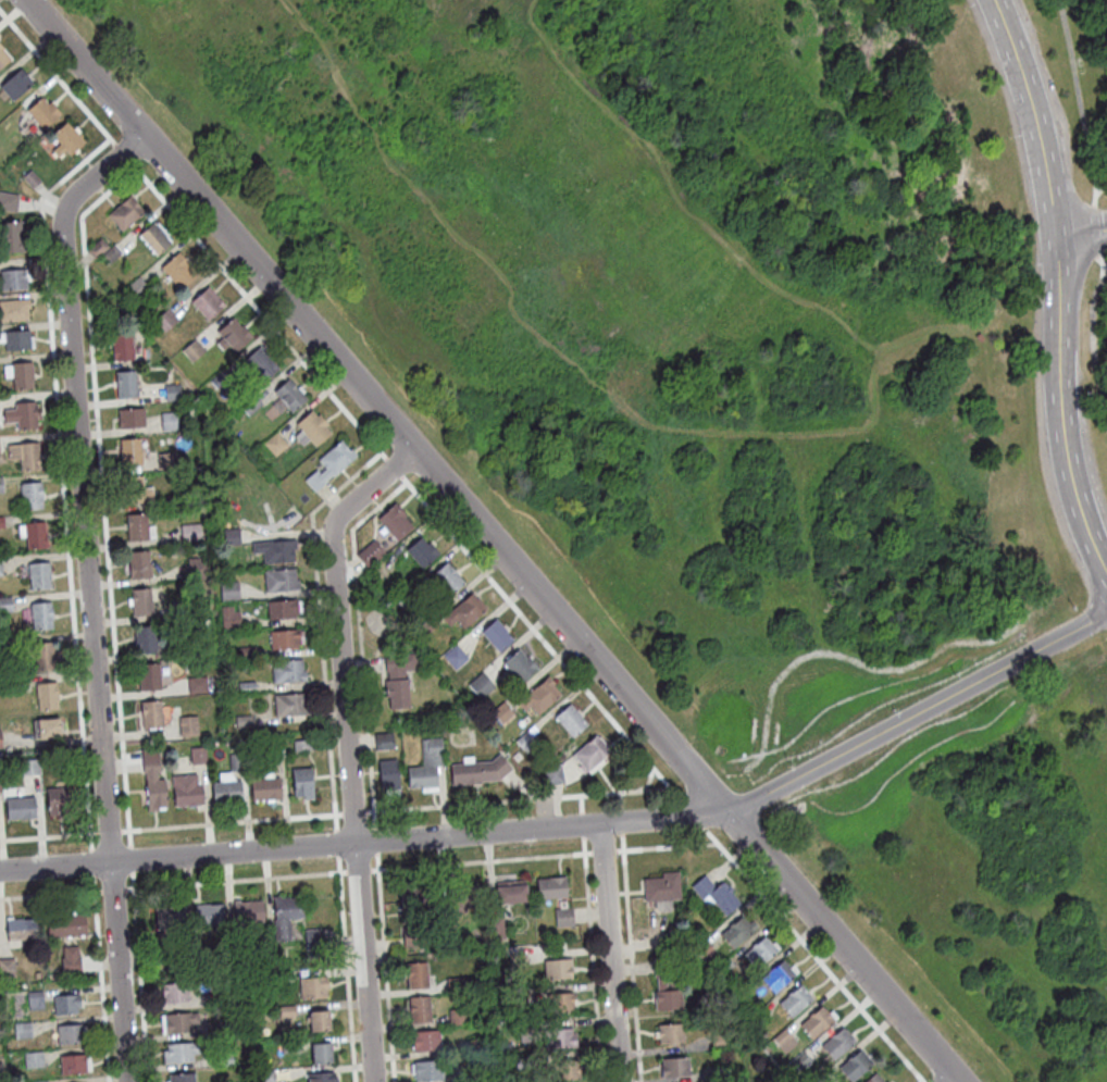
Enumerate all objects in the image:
street lamp: (963, 9)
building: (3, 60)
road: (58, 76)
building: (15, 87)
road: (1079, 97)
building: (42, 115)
building: (7, 127)
street lamp: (1009, 139)
building: (66, 142)
road: (123, 153)
road: (1102, 175)
building: (30, 181)
road: (1094, 194)
road: (675, 198)
building: (8, 203)
building: (124, 217)
road: (1095, 229)
road: (1080, 233)
building: (11, 239)
building: (153, 241)
building: (97, 251)
building: (110, 258)
road: (1103, 261)
street lamp: (1030, 265)
building: (177, 274)
building: (14, 282)
road: (1058, 288)
building: (134, 293)
building: (207, 307)
building: (14, 312)
building: (164, 323)
road: (967, 323)
building: (232, 338)
road: (1092, 339)
building: (16, 343)
road: (546, 343)
building: (122, 350)
building: (192, 353)
building: (260, 366)
building: (22, 378)
building: (219, 382)
building: (125, 388)
street lamp: (1089, 394)
building: (172, 395)
building: (289, 398)
park: (751, 398)
building: (250, 408)
building: (26, 418)
building: (129, 422)
building: (167, 423)
building: (312, 431)
road: (395, 438)
building: (274, 447)
building: (128, 455)
building: (24, 457)
building: (166, 463)
building: (329, 469)
road: (421, 469)
road: (61, 475)
road: (406, 480)
building: (1, 487)
road: (102, 493)
building: (135, 494)
building: (30, 497)
building: (176, 505)
building: (1, 524)
building: (394, 525)
building: (136, 530)
building: (190, 535)
building: (36, 537)
building: (227, 538)
road: (493, 540)
building: (274, 554)
building: (422, 555)
building: (370, 557)
building: (138, 567)
building: (0, 569)
building: (196, 571)
building: (38, 577)
building: (447, 582)
building: (279, 583)
road: (88, 590)
building: (228, 593)
building: (403, 599)
building: (140, 604)
building: (5, 606)
building: (182, 612)
building: (282, 612)
building: (463, 614)
road: (319, 617)
building: (41, 619)
building: (229, 620)
road: (359, 634)
building: (496, 638)
building: (284, 642)
building: (146, 643)
building: (247, 655)
building: (455, 658)
building: (42, 659)
building: (398, 666)
building: (518, 669)
building: (287, 674)
building: (148, 680)
building: (18, 683)
building: (197, 687)
building: (480, 687)
building: (246, 689)
building: (397, 696)
building: (47, 699)
building: (539, 699)
building: (287, 708)
street lamp: (897, 713)
building: (501, 714)
building: (150, 717)
building: (242, 723)
building: (570, 724)
building: (187, 729)
building: (48, 733)
building: (0, 744)
building: (384, 744)
building: (525, 744)
building: (302, 747)
road: (346, 747)
building: (277, 751)
building: (198, 757)
building: (590, 757)
building: (517, 758)
building: (236, 764)
building: (426, 769)
building: (29, 770)
building: (552, 773)
building: (478, 774)
building: (387, 778)
road: (648, 778)
building: (152, 783)
building: (302, 786)
building: (0, 792)
building: (265, 793)
building: (185, 794)
building: (226, 795)
road: (517, 798)
road: (618, 799)
road: (580, 803)
building: (55, 806)
road: (352, 810)
building: (20, 811)
road: (692, 811)
road: (620, 819)
road: (231, 820)
road: (576, 823)
road: (582, 823)
road: (109, 830)
road: (48, 834)
road: (374, 838)
road: (622, 841)
road: (336, 842)
road: (666, 845)
road: (602, 849)
road: (129, 858)
road: (481, 859)
road: (90, 861)
road: (358, 869)
road: (236, 879)
road: (113, 887)
building: (702, 890)
building: (661, 891)
building: (550, 892)
road: (50, 893)
building: (510, 896)
building: (461, 898)
building: (724, 901)
building: (414, 903)
building: (247, 915)
building: (208, 917)
building: (285, 919)
building: (563, 919)
building: (169, 921)
building: (65, 929)
building: (494, 930)
building: (446, 932)
building: (20, 933)
building: (738, 933)
building: (413, 938)
building: (312, 942)
road: (609, 952)
building: (704, 952)
road: (811, 952)
building: (759, 955)
building: (195, 956)
building: (165, 959)
road: (592, 959)
building: (518, 961)
building: (70, 963)
road: (632, 965)
road: (385, 967)
road: (346, 969)
building: (723, 969)
building: (7, 970)
building: (557, 972)
road: (139, 977)
road: (101, 978)
building: (416, 979)
building: (778, 979)
building: (278, 980)
building: (455, 986)
building: (666, 988)
building: (312, 991)
building: (519, 995)
building: (174, 996)
building: (225, 997)
building: (35, 1003)
building: (795, 1004)
building: (559, 1007)
building: (65, 1008)
building: (420, 1012)
building: (286, 1013)
building: (456, 1019)
building: (756, 1020)
building: (178, 1025)
building: (816, 1025)
building: (318, 1027)
building: (22, 1033)
building: (212, 1033)
building: (527, 1033)
building: (69, 1037)
building: (671, 1037)
building: (559, 1042)
building: (720, 1042)
building: (784, 1043)
building: (425, 1044)
building: (837, 1047)
building: (476, 1048)
building: (289, 1049)
building: (179, 1055)
building: (320, 1059)
building: (223, 1061)
building: (33, 1062)
building: (522, 1064)
building: (801, 1064)
building: (72, 1068)
building: (855, 1069)
building: (674, 1070)
road: (930, 1071)
building: (564, 1072)
building: (427, 1073)
building: (720, 1074)
building: (264, 1077)
building: (463, 1078)
building: (182, 1079)
building: (321, 1079)
building: (874, 1080)
road: (922, 1080)
road: (951, 1080)
road: (918, 1081)

